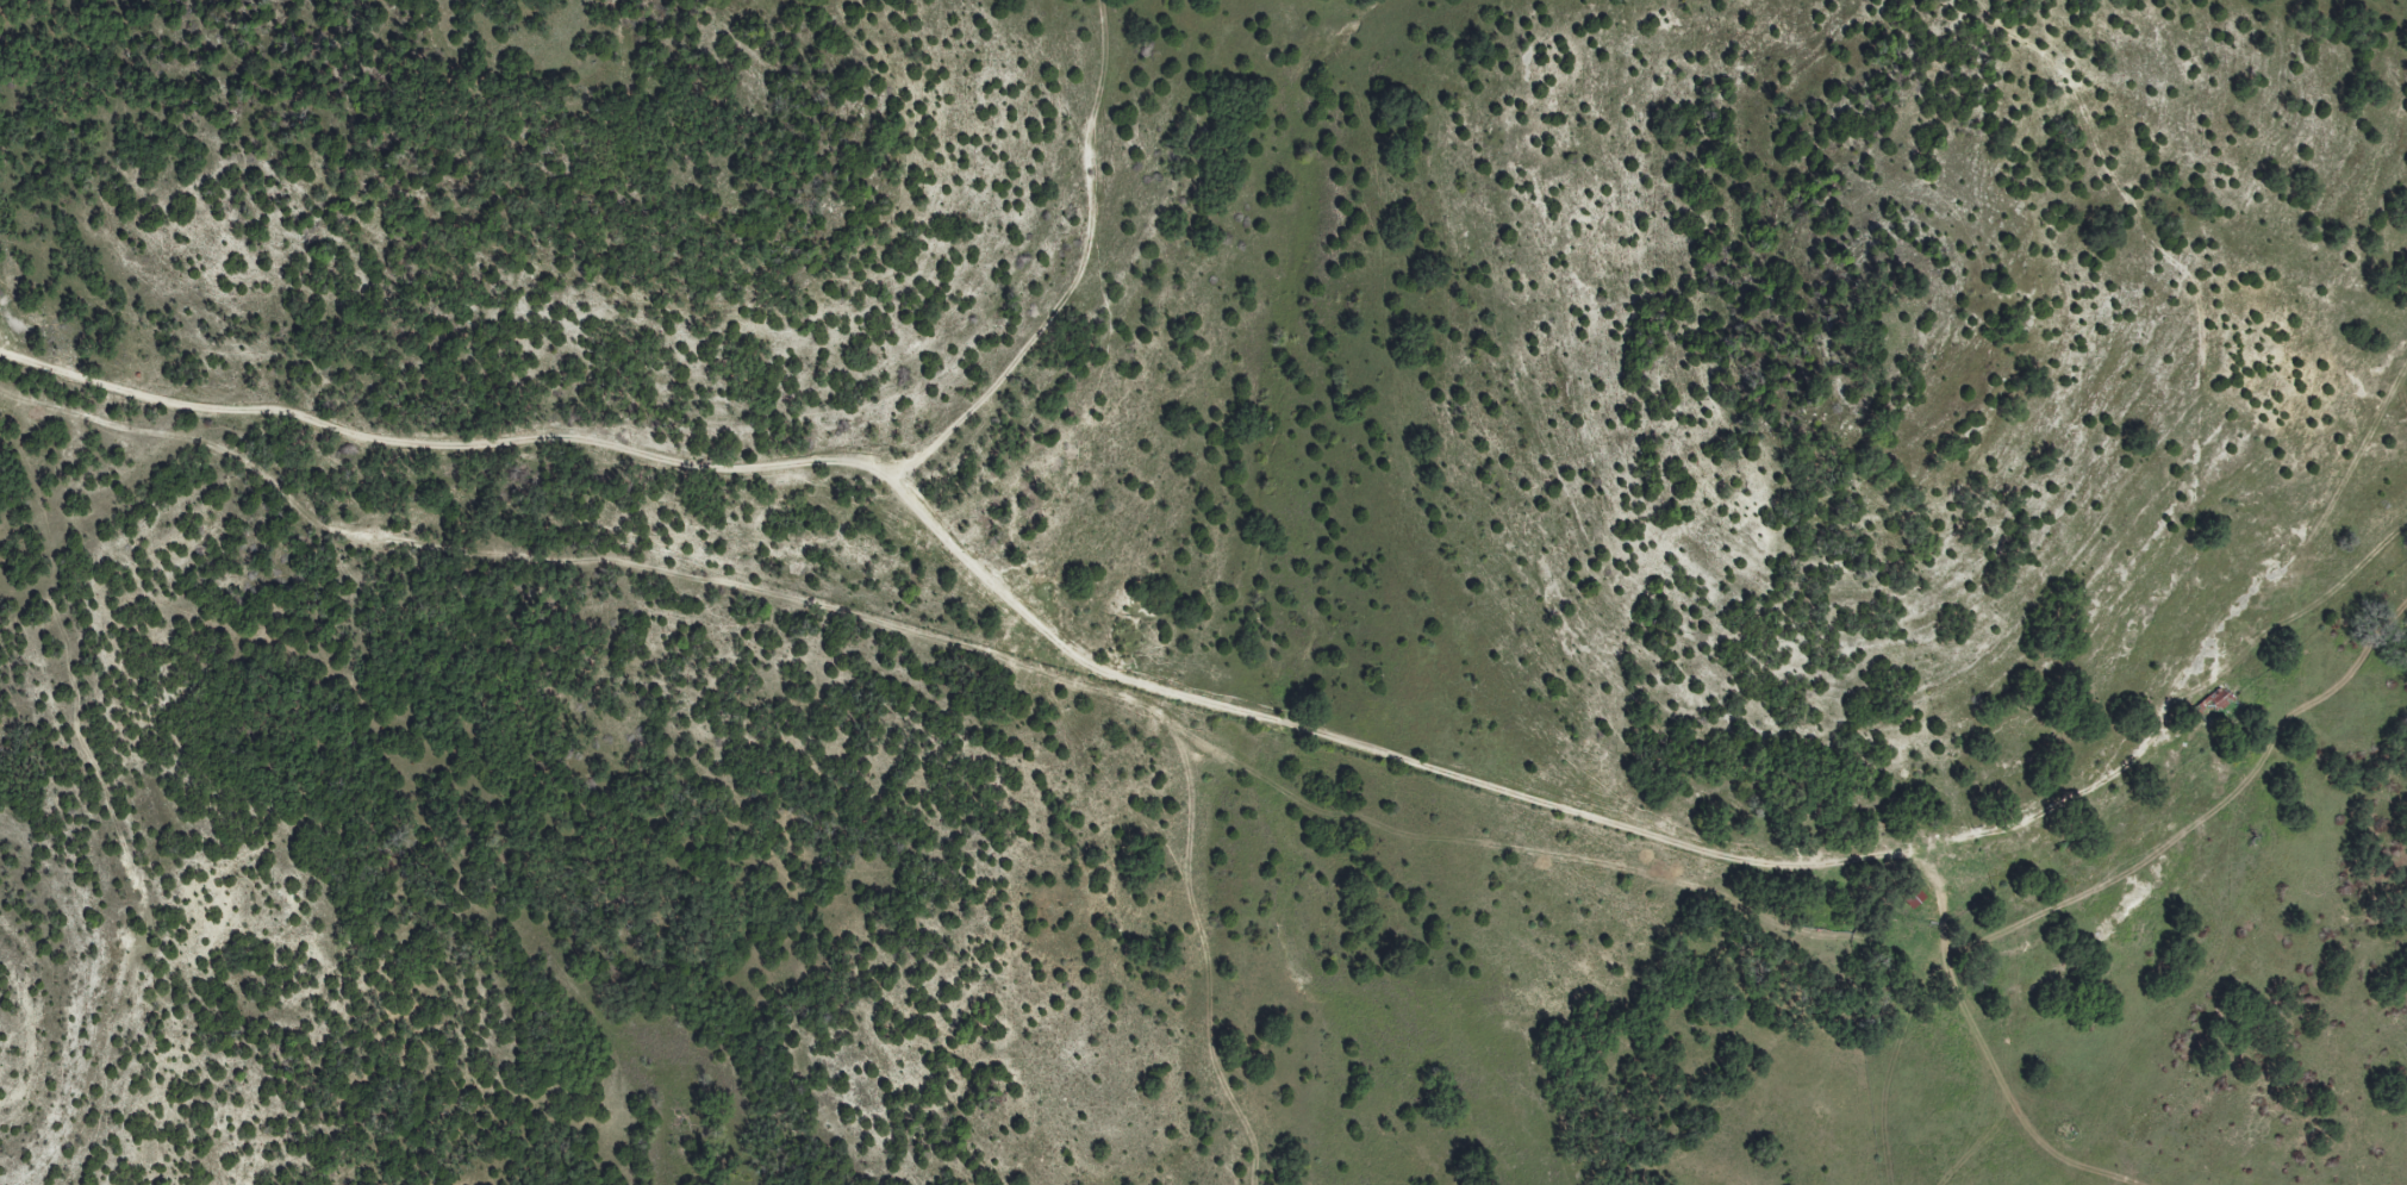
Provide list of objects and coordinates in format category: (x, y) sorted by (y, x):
building: (2216, 700)

